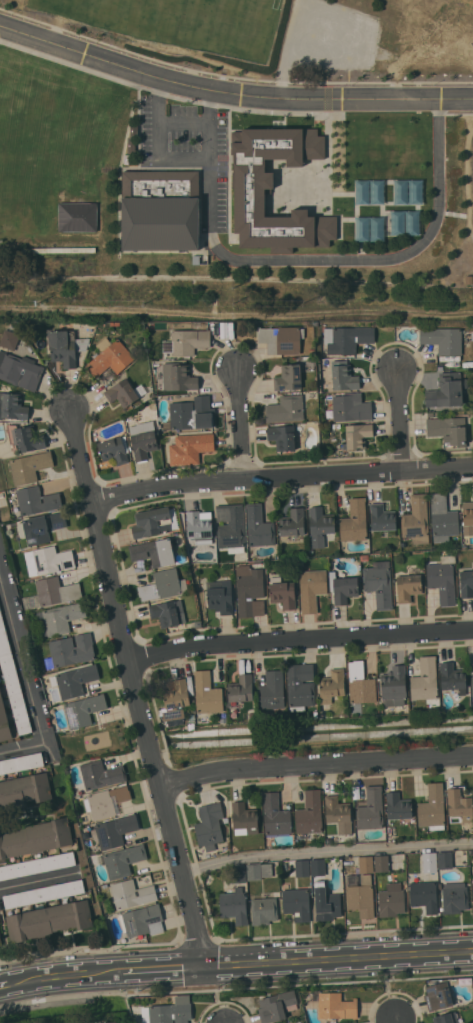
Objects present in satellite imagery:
park: (181, 22)
parking lot: (331, 36)
road: (231, 92)
road: (186, 122)
parking lot: (186, 137)
park: (49, 138)
road: (159, 143)
park: (388, 145)
building: (407, 191)
building: (370, 192)
building: (250, 198)
building: (160, 209)
building: (77, 217)
building: (407, 222)
building: (369, 225)
road: (315, 258)
building: (196, 259)
building: (10, 335)
building: (282, 339)
building: (346, 339)
building: (443, 339)
building: (187, 342)
building: (28, 345)
building: (66, 346)
building: (110, 357)
building: (20, 370)
building: (178, 375)
building: (289, 378)
building: (344, 378)
building: (447, 390)
building: (125, 392)
building: (12, 406)
building: (351, 407)
building: (286, 409)
building: (192, 414)
road: (402, 421)
road: (240, 426)
building: (336, 426)
building: (127, 429)
building: (448, 430)
building: (358, 435)
building: (25, 437)
building: (283, 437)
building: (144, 444)
building: (190, 448)
building: (115, 449)
road: (83, 455)
building: (29, 466)
road: (282, 476)
building: (36, 500)
building: (382, 518)
building: (442, 518)
building: (468, 518)
building: (416, 519)
building: (156, 521)
building: (354, 521)
building: (293, 522)
building: (320, 525)
building: (43, 526)
building: (199, 526)
building: (259, 526)
building: (231, 527)
building: (154, 551)
building: (241, 557)
building: (365, 557)
building: (48, 560)
building: (257, 562)
building: (299, 562)
building: (443, 579)
building: (466, 583)
building: (163, 584)
building: (379, 585)
building: (409, 585)
building: (343, 587)
building: (311, 589)
building: (250, 590)
building: (51, 592)
building: (282, 592)
building: (220, 596)
building: (168, 613)
building: (61, 617)
building: (198, 623)
road: (300, 638)
building: (70, 650)
road: (22, 659)
building: (452, 677)
building: (425, 679)
building: (74, 680)
building: (13, 683)
building: (472, 683)
building: (300, 685)
building: (332, 685)
building: (360, 685)
building: (394, 686)
building: (240, 690)
building: (271, 690)
building: (206, 694)
building: (175, 701)
building: (83, 710)
building: (252, 716)
building: (192, 717)
building: (223, 719)
building: (4, 722)
road: (147, 733)
road: (22, 748)
building: (20, 763)
road: (316, 763)
building: (101, 774)
building: (24, 790)
building: (106, 801)
building: (460, 803)
building: (398, 806)
building: (432, 808)
building: (371, 809)
building: (338, 814)
building: (275, 816)
building: (309, 816)
building: (244, 819)
building: (209, 825)
building: (114, 831)
building: (35, 838)
building: (329, 840)
road: (327, 852)
building: (445, 859)
building: (122, 860)
building: (381, 863)
building: (365, 864)
building: (37, 865)
building: (429, 865)
building: (318, 867)
building: (302, 868)
building: (266, 870)
building: (254, 871)
building: (238, 874)
road: (36, 879)
building: (472, 879)
building: (131, 893)
building: (43, 894)
building: (424, 896)
building: (472, 896)
building: (361, 897)
building: (454, 898)
building: (391, 900)
building: (296, 903)
building: (234, 905)
building: (327, 906)
building: (264, 910)
building: (48, 920)
building: (142, 920)
building: (0, 941)
building: (0, 946)
road: (240, 965)
road: (4, 985)
building: (438, 995)
building: (276, 1005)
building: (334, 1005)
building: (169, 1011)
building: (446, 1018)
road: (398, 1021)
building: (111, 1022)
building: (291, 1022)

